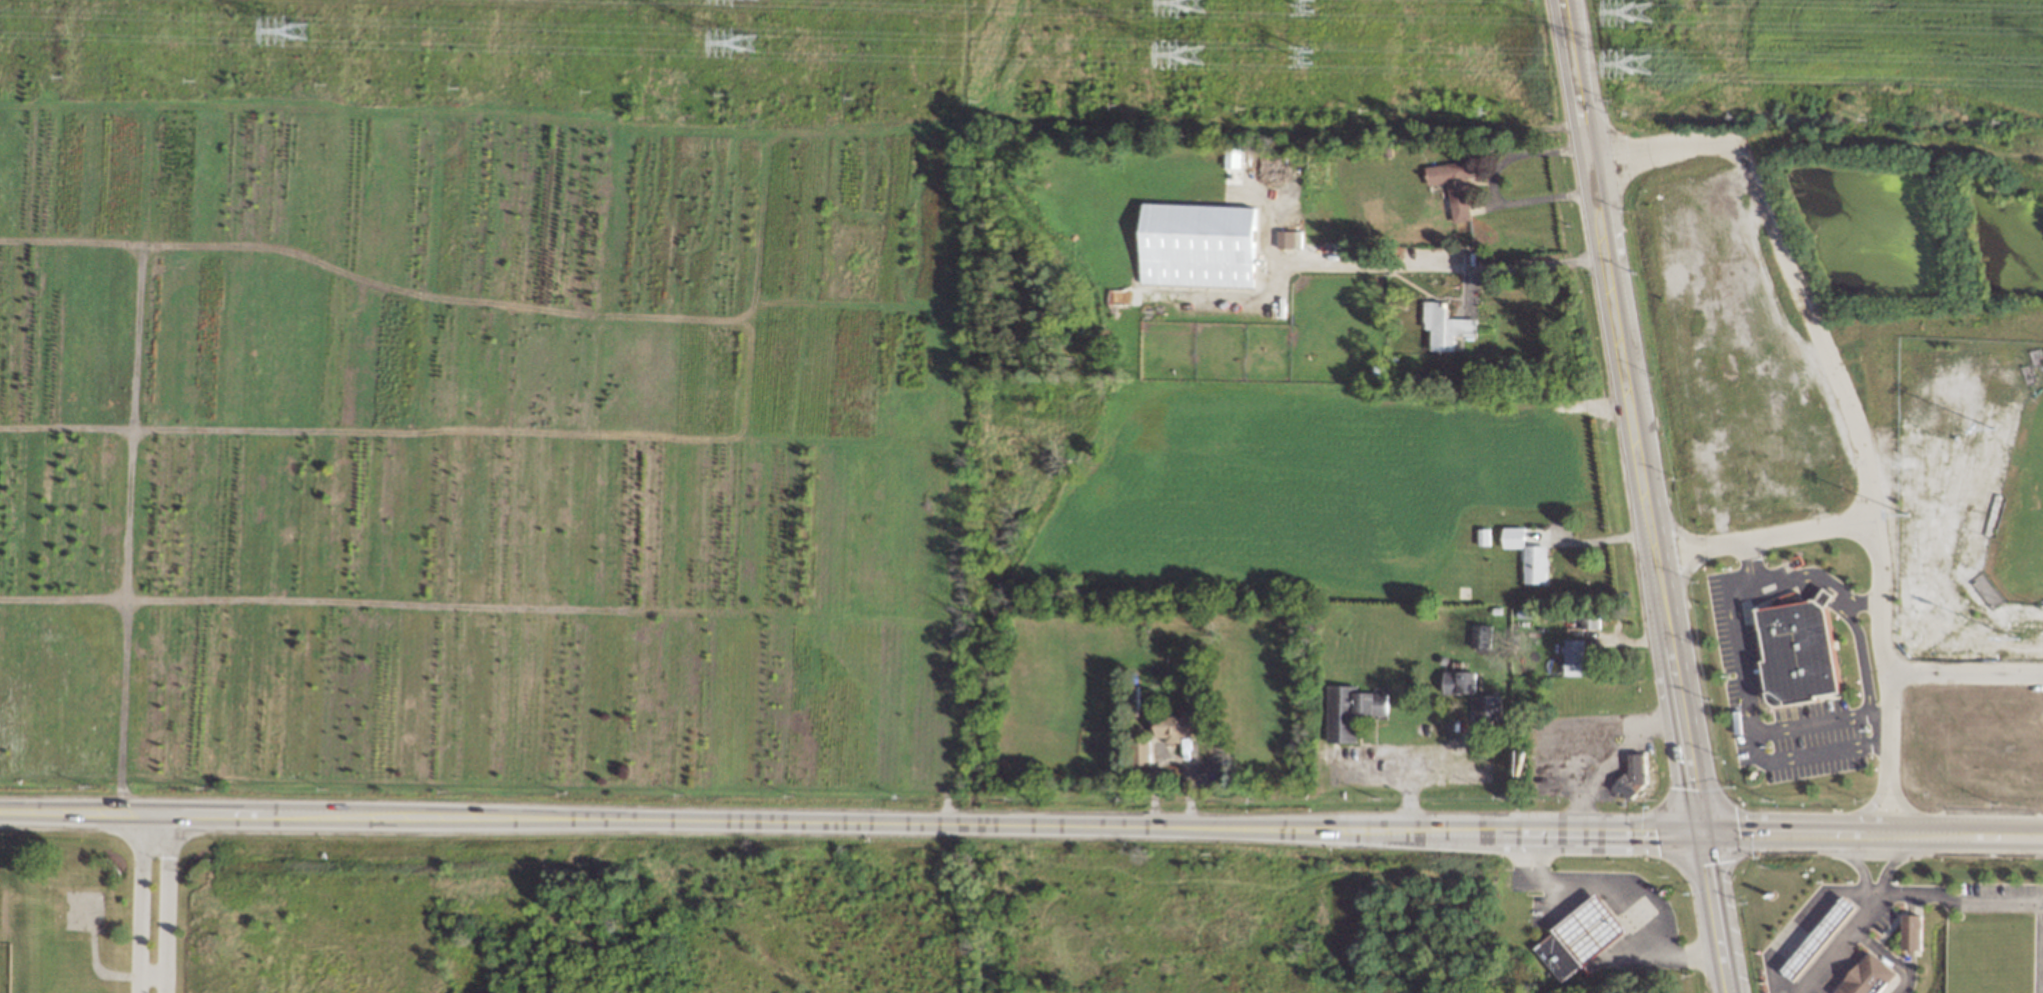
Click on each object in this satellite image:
power tower: (1638, 5)
power tower: (1303, 7)
power tower: (295, 29)
power tower: (743, 39)
power tower: (1193, 47)
power tower: (1639, 56)
power tower: (1303, 57)
road: (1583, 128)
road: (1491, 182)
building: (1455, 185)
building: (1289, 238)
building: (1199, 245)
road: (1786, 257)
road: (1438, 265)
building: (1446, 325)
crop: (474, 388)
crop: (1311, 485)
park: (2021, 514)
road: (1666, 522)
building: (1484, 536)
road: (1598, 536)
road: (1653, 545)
building: (1529, 555)
road: (1881, 559)
road: (1677, 585)
building: (1823, 598)
road: (1862, 602)
road: (1849, 615)
building: (1591, 621)
building: (1481, 635)
building: (1796, 653)
building: (1573, 656)
road: (1965, 673)
building: (1460, 682)
road: (1750, 689)
building: (1350, 710)
building: (1487, 711)
building: (1172, 725)
building: (1143, 752)
road: (1610, 758)
road: (1407, 770)
building: (1633, 776)
road: (1865, 805)
road: (1907, 807)
road: (705, 821)
traffic signals: (1702, 836)
road: (1726, 836)
road: (1856, 864)
road: (1890, 864)
road: (1616, 893)
road: (142, 901)
road: (1957, 901)
road: (167, 902)
road: (1714, 914)
gas station: (1841, 921)
road: (1806, 923)
building: (1589, 929)
gas station: (1589, 929)
building: (1910, 931)
building: (1819, 937)
road: (1841, 945)
building: (1558, 956)
road: (1889, 958)
building: (1865, 976)

